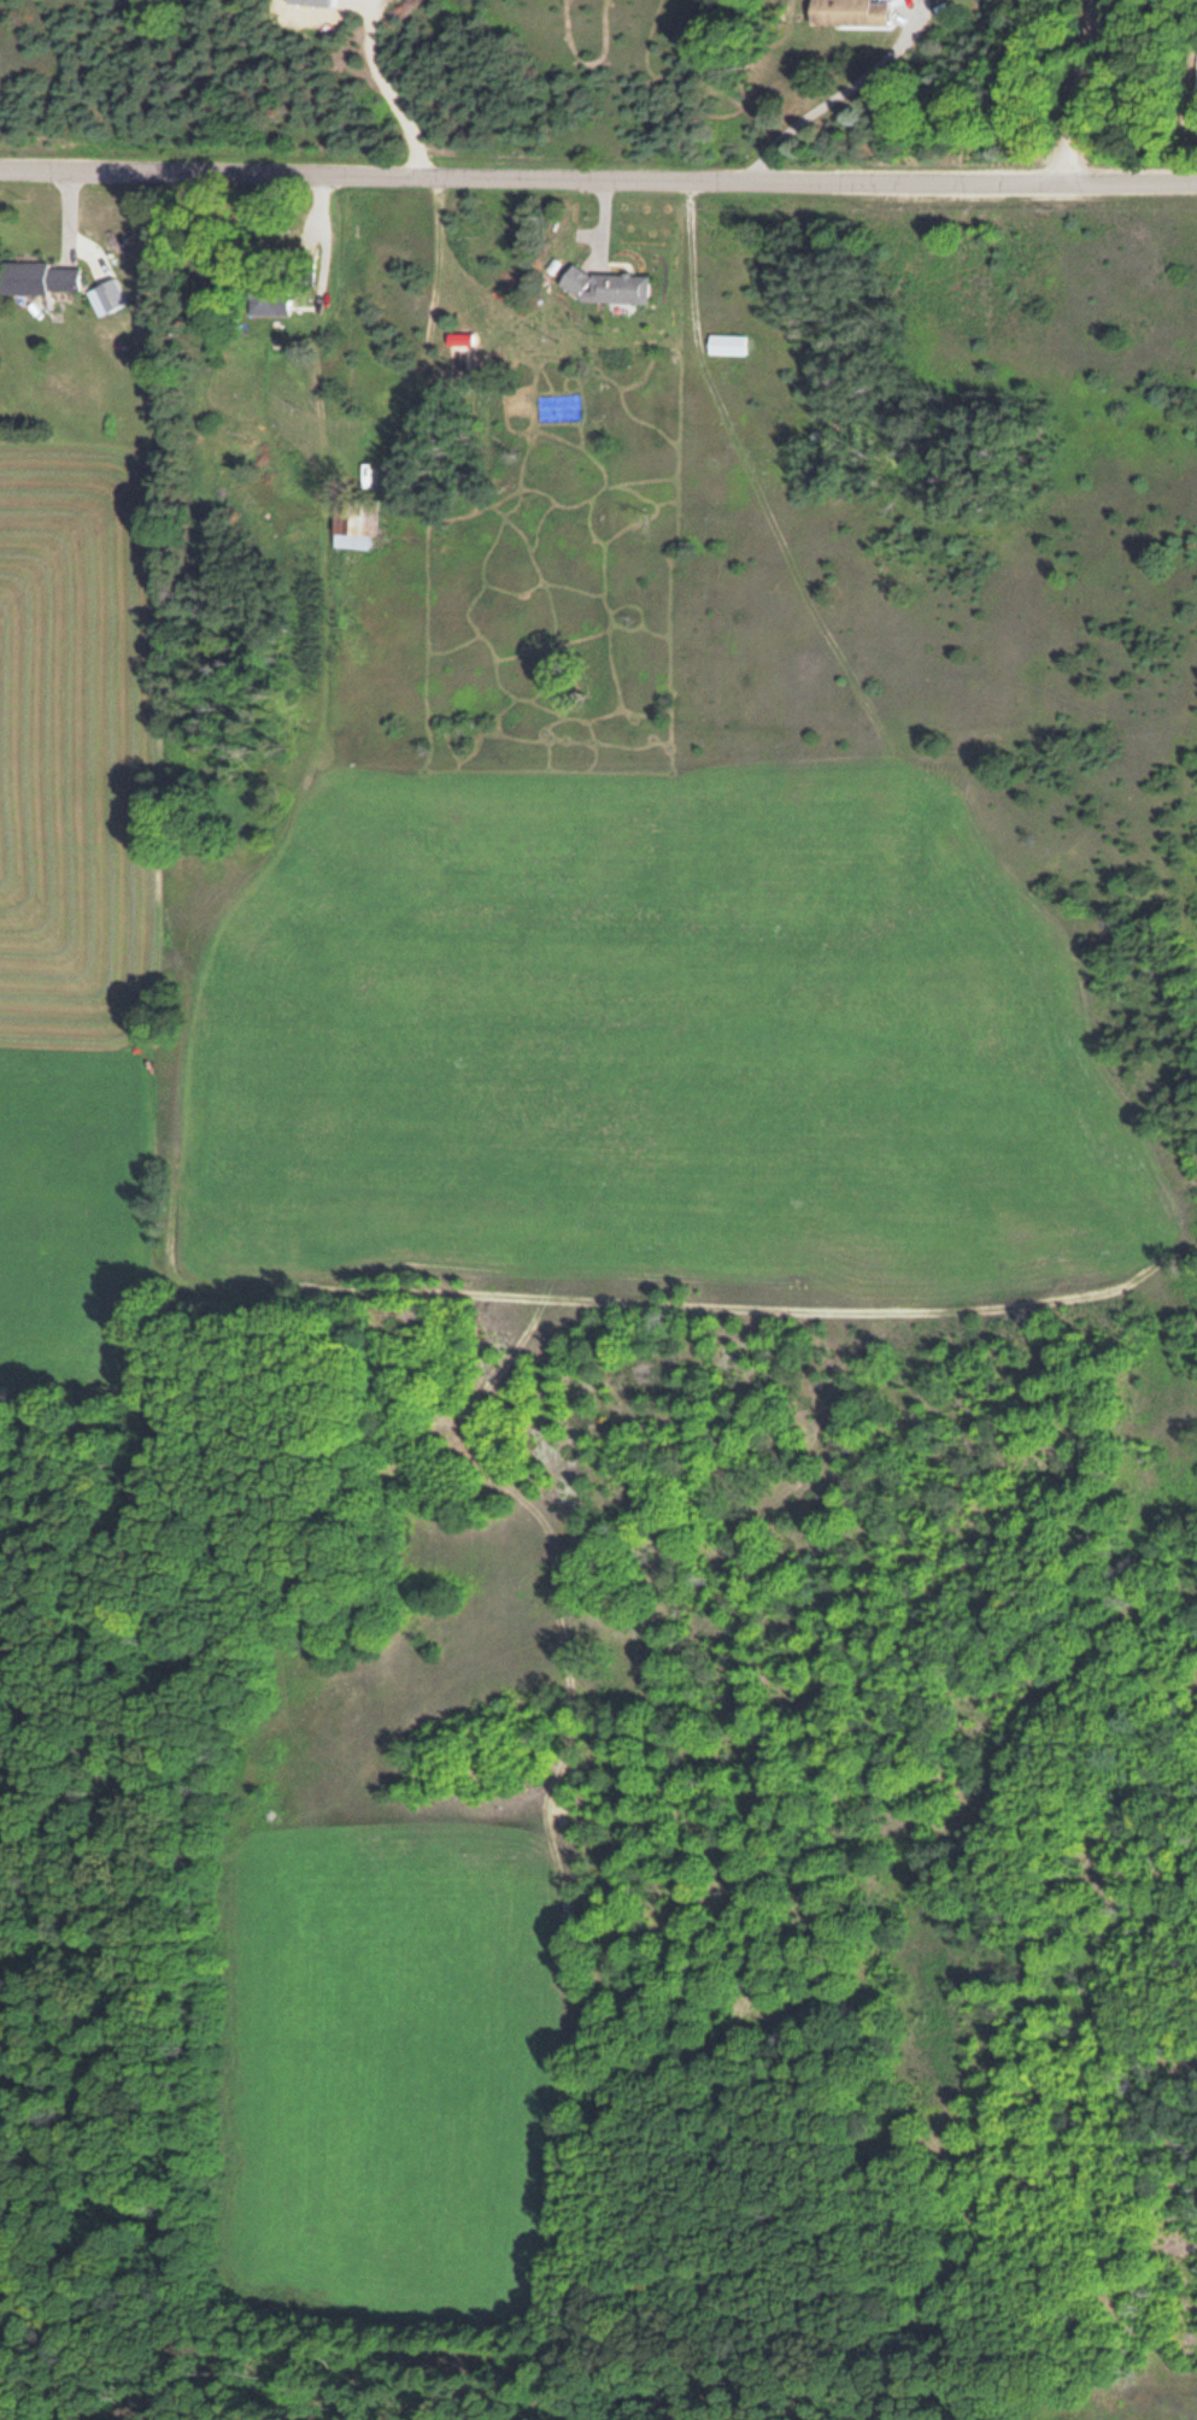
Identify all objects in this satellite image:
building: (846, 12)
building: (1195, 71)
road: (1078, 89)
road: (838, 90)
road: (598, 178)
building: (37, 277)
building: (603, 284)
building: (108, 293)
building: (266, 295)
building: (724, 342)
building: (839, 424)
building: (353, 522)

